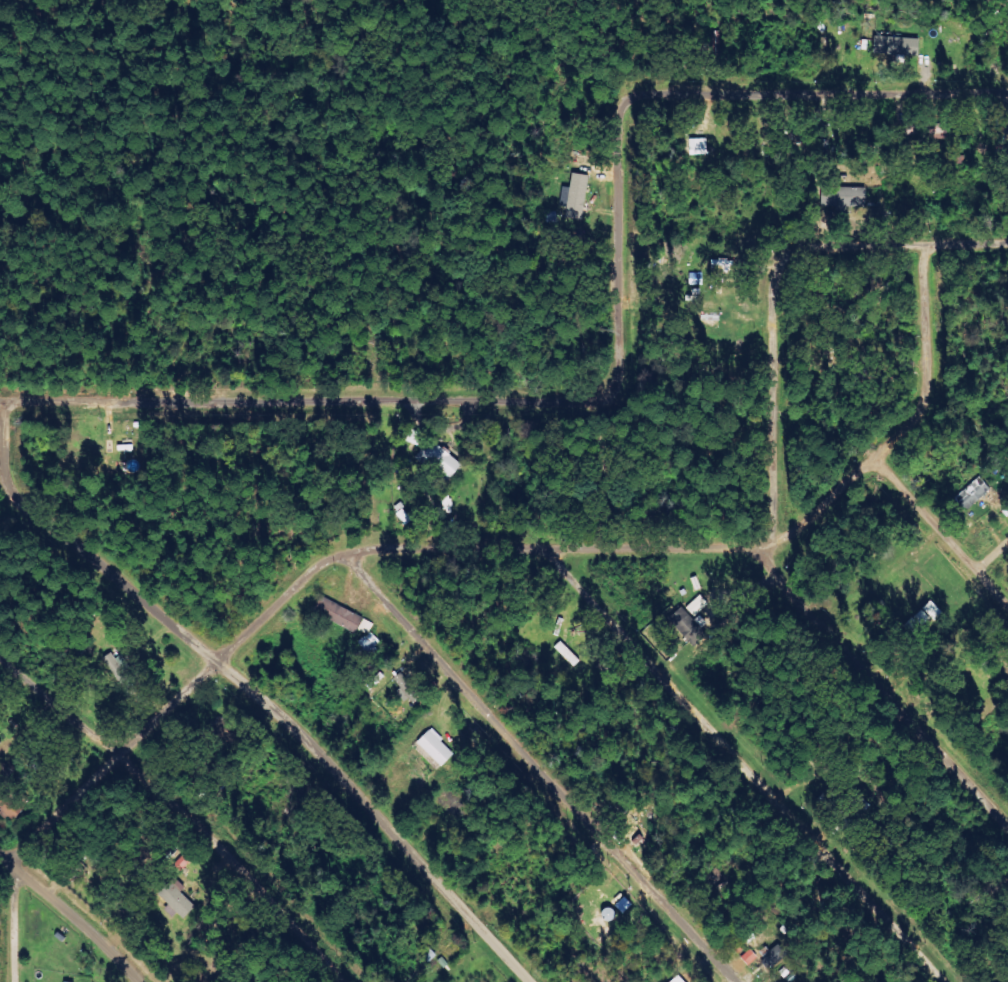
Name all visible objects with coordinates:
building: (897, 46)
building: (698, 147)
building: (844, 193)
building: (577, 196)
road: (894, 245)
road: (621, 365)
road: (773, 397)
building: (440, 459)
building: (973, 494)
road: (940, 534)
road: (514, 551)
road: (993, 559)
building: (698, 606)
building: (685, 625)
building: (404, 686)
road: (882, 689)
road: (248, 694)
building: (436, 748)
road: (544, 768)
road: (740, 768)
road: (177, 817)
road: (68, 919)
road: (7, 922)
building: (677, 979)
building: (65, 981)

